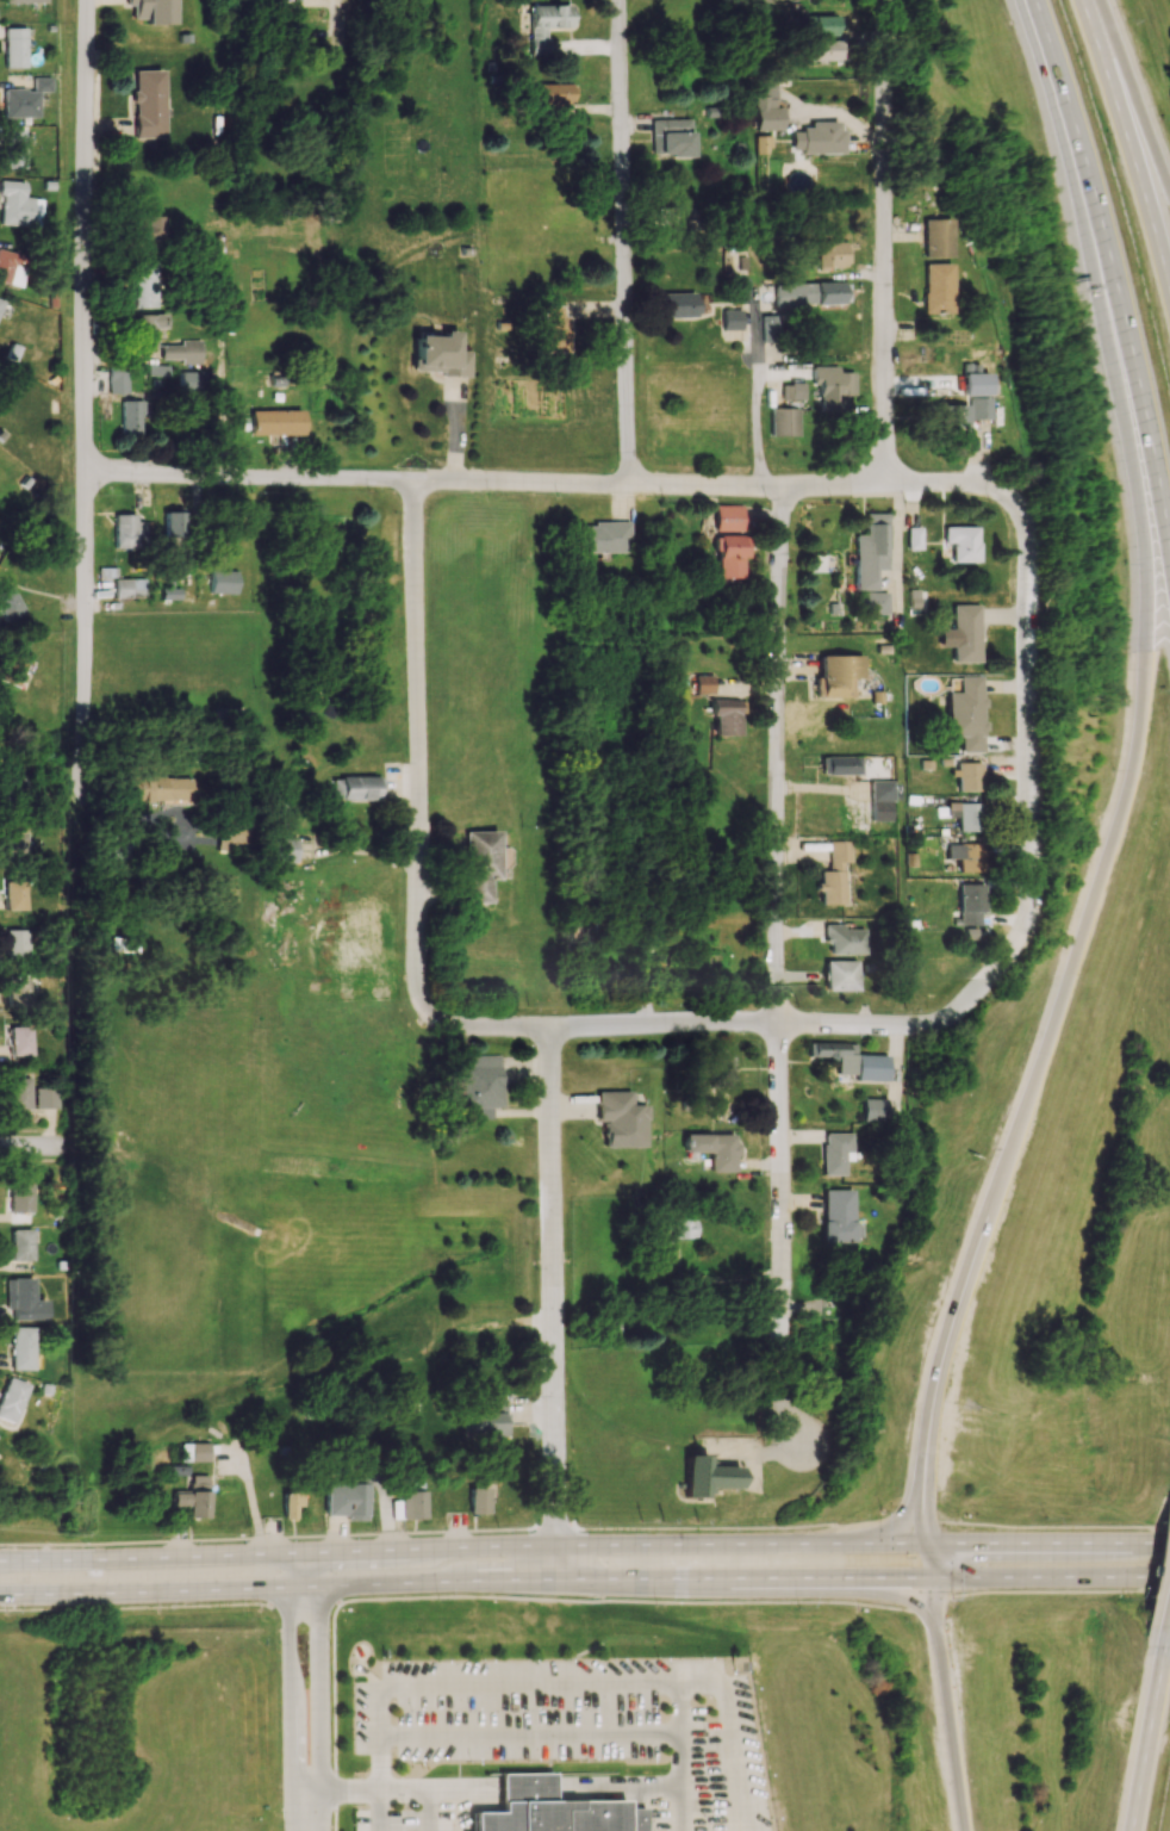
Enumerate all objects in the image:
building: (21, 1)
building: (150, 11)
building: (544, 24)
building: (816, 25)
building: (14, 46)
building: (821, 50)
building: (552, 93)
road: (1128, 97)
building: (24, 99)
building: (147, 104)
building: (766, 107)
road: (1062, 124)
building: (671, 137)
building: (819, 137)
road: (1127, 141)
building: (12, 149)
building: (14, 204)
building: (672, 217)
building: (144, 231)
building: (936, 237)
road: (628, 242)
road: (754, 243)
road: (886, 243)
building: (832, 254)
building: (7, 265)
building: (141, 285)
building: (936, 287)
building: (742, 290)
building: (810, 293)
building: (0, 302)
building: (679, 304)
building: (730, 318)
building: (770, 328)
building: (145, 329)
building: (555, 329)
building: (183, 352)
building: (440, 354)
building: (118, 379)
building: (191, 381)
building: (832, 387)
road: (87, 396)
building: (958, 414)
road: (1140, 415)
building: (132, 417)
building: (783, 421)
building: (275, 422)
road: (556, 485)
building: (728, 517)
building: (127, 532)
building: (603, 538)
building: (913, 538)
building: (961, 542)
building: (870, 551)
building: (730, 554)
building: (223, 582)
building: (129, 588)
building: (917, 600)
building: (873, 602)
building: (11, 607)
building: (835, 608)
building: (965, 633)
building: (12, 669)
building: (839, 675)
building: (704, 684)
road: (419, 705)
building: (966, 713)
building: (726, 716)
road: (1026, 749)
building: (841, 764)
building: (967, 776)
building: (11, 788)
building: (355, 788)
building: (157, 789)
building: (882, 790)
building: (965, 815)
building: (280, 831)
building: (230, 839)
building: (17, 844)
building: (479, 864)
road: (1101, 871)
building: (835, 874)
building: (17, 893)
building: (969, 904)
building: (845, 939)
building: (18, 943)
building: (651, 969)
road: (779, 972)
building: (841, 975)
building: (19, 989)
road: (673, 1028)
building: (20, 1041)
building: (833, 1049)
building: (723, 1066)
building: (872, 1067)
building: (479, 1084)
building: (18, 1092)
building: (46, 1098)
building: (873, 1110)
building: (620, 1119)
road: (33, 1142)
building: (712, 1149)
building: (836, 1152)
building: (19, 1197)
building: (839, 1216)
building: (682, 1227)
building: (23, 1243)
building: (23, 1299)
road: (552, 1304)
building: (20, 1348)
building: (10, 1398)
building: (404, 1405)
building: (488, 1420)
building: (194, 1451)
road: (753, 1451)
building: (707, 1476)
building: (194, 1496)
road: (921, 1498)
building: (347, 1500)
building: (412, 1500)
building: (292, 1501)
building: (479, 1501)
road: (886, 1522)
road: (1053, 1526)
road: (418, 1531)
road: (584, 1544)
traffic signals: (926, 1545)
road: (926, 1548)
road: (303, 1569)
traffic signals: (931, 1578)
road: (584, 1579)
road: (932, 1588)
road: (1059, 1590)
road: (454, 1597)
road: (927, 1600)
road: (935, 1615)
road: (1168, 1627)
road: (291, 1682)
road: (320, 1683)
road: (531, 1684)
road: (528, 1732)
road: (950, 1732)
road: (677, 1734)
road: (1147, 1737)
road: (637, 1787)
road: (402, 1789)
road: (525, 1789)
road: (478, 1790)
road: (459, 1793)
road: (305, 1807)
building: (552, 1810)

